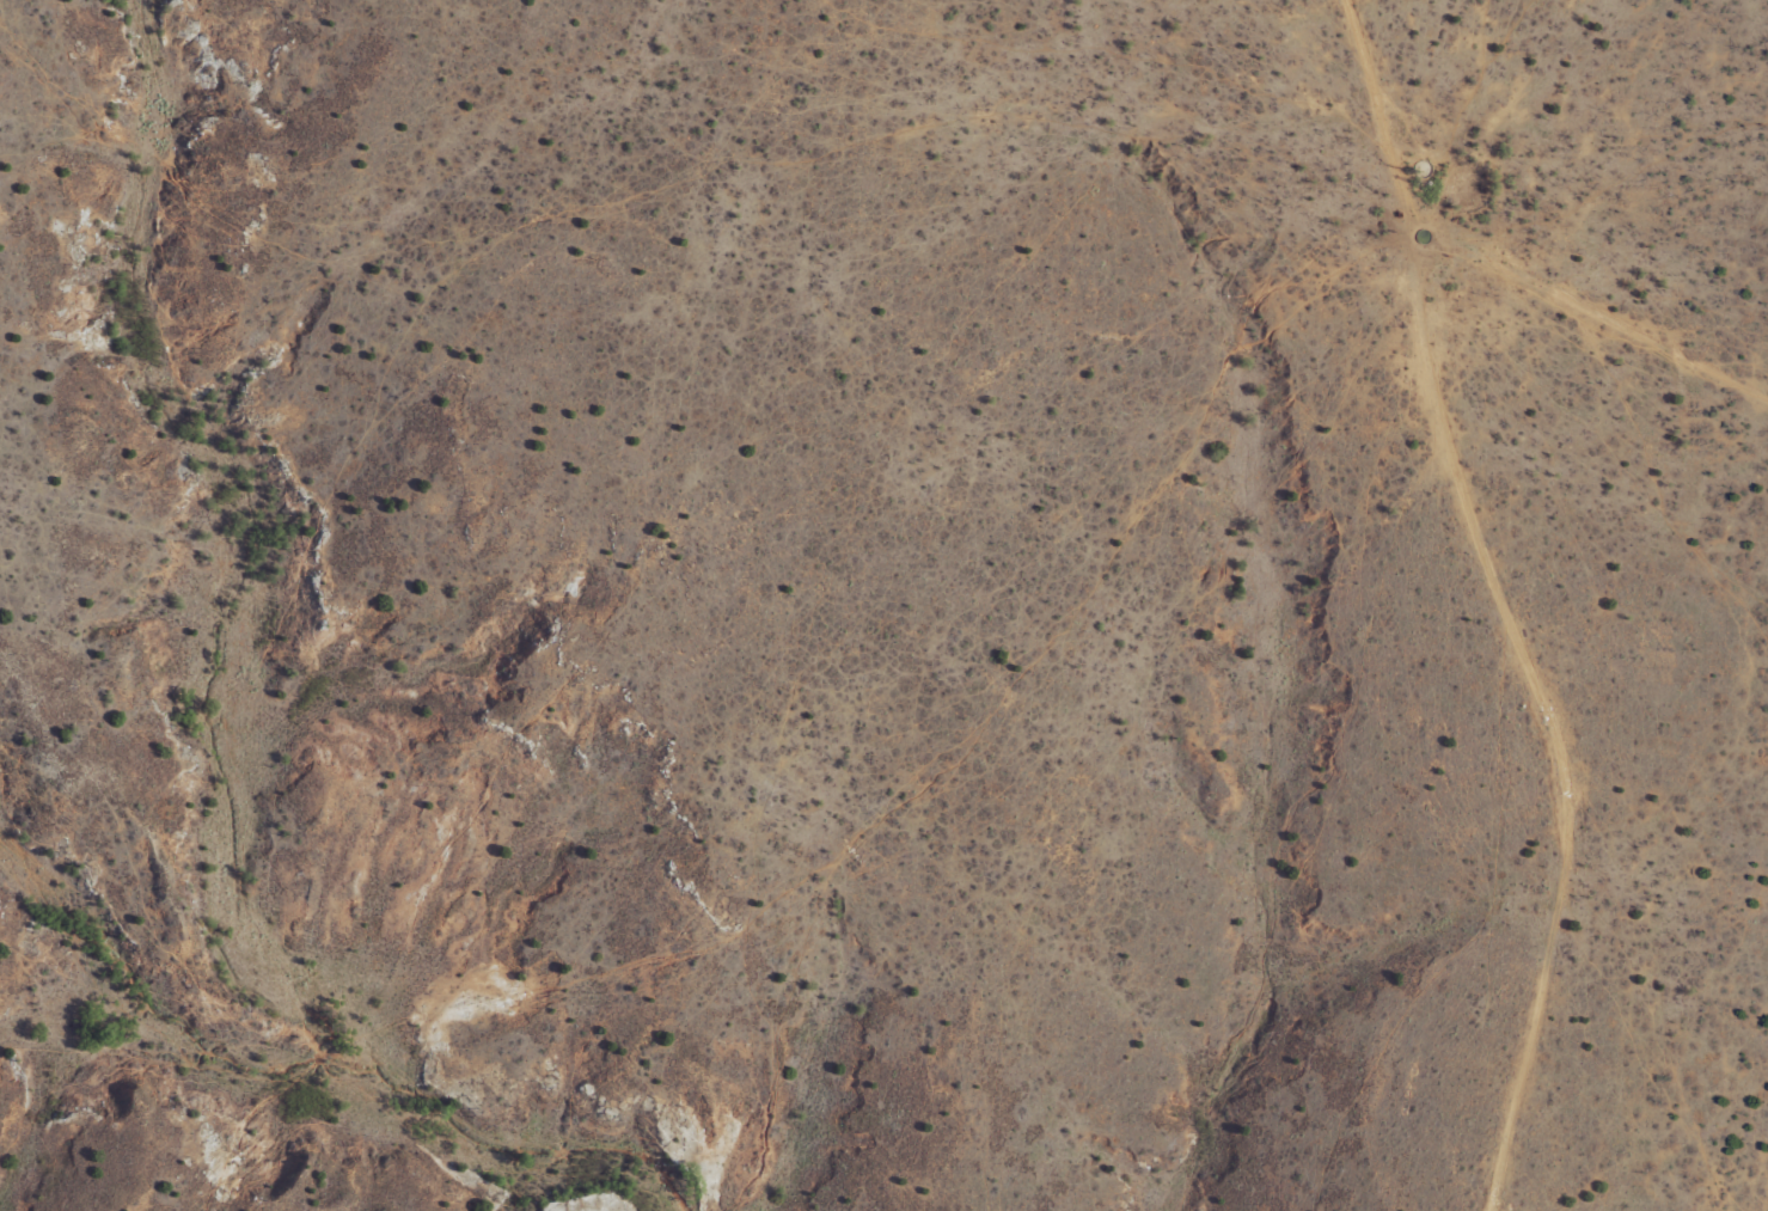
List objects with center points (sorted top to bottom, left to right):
road: (1396, 129)
road: (1445, 555)

